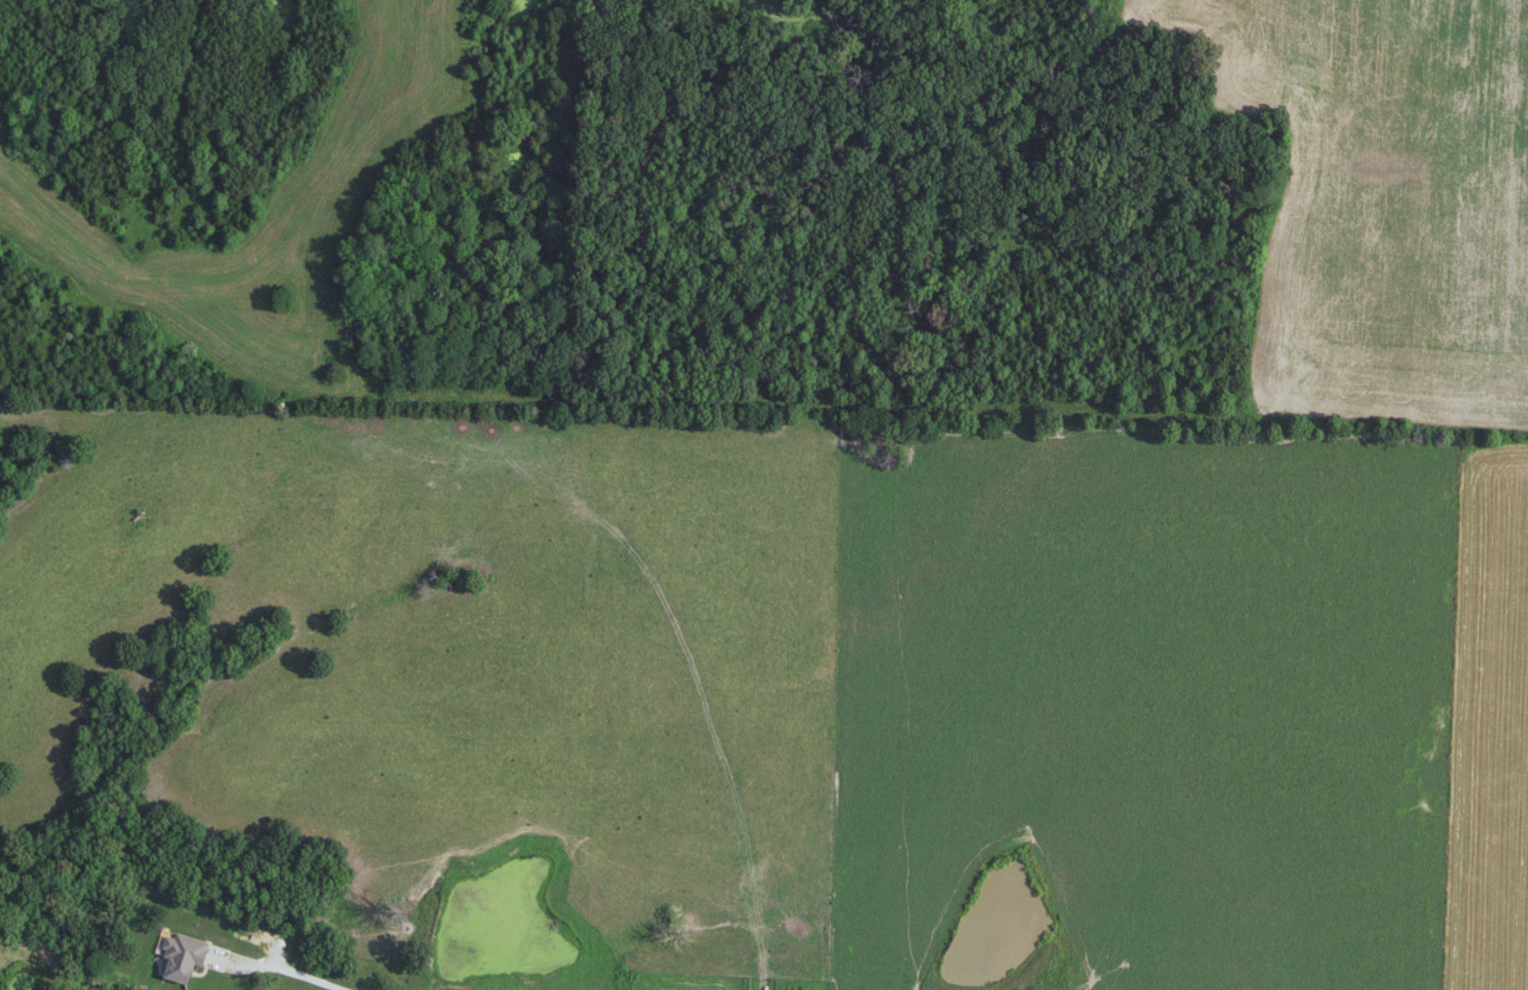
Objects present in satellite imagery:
road: (282, 969)

